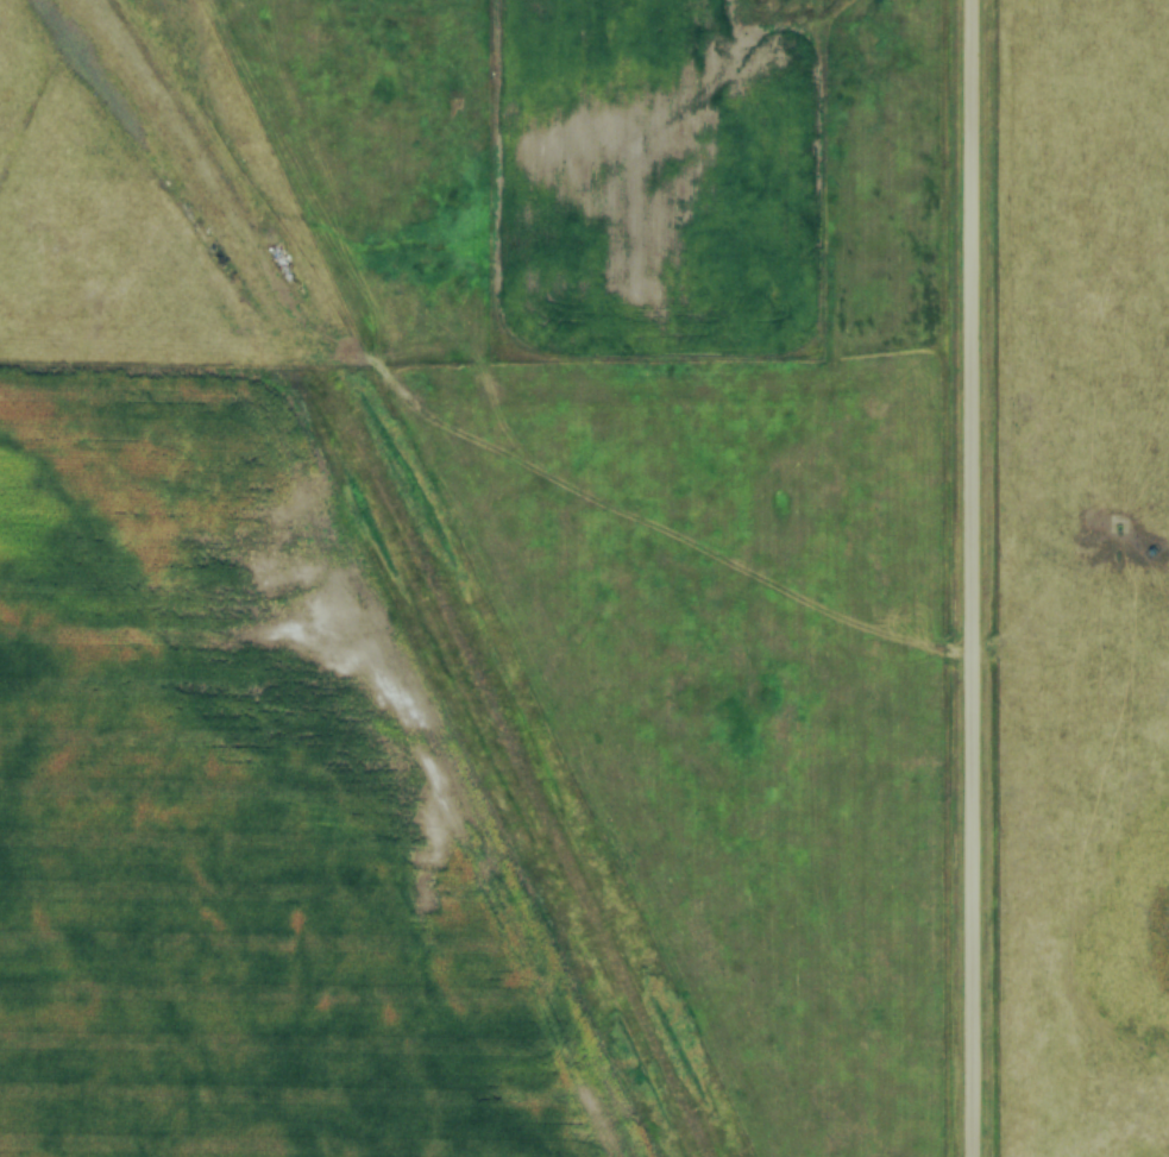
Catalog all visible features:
road: (975, 578)

